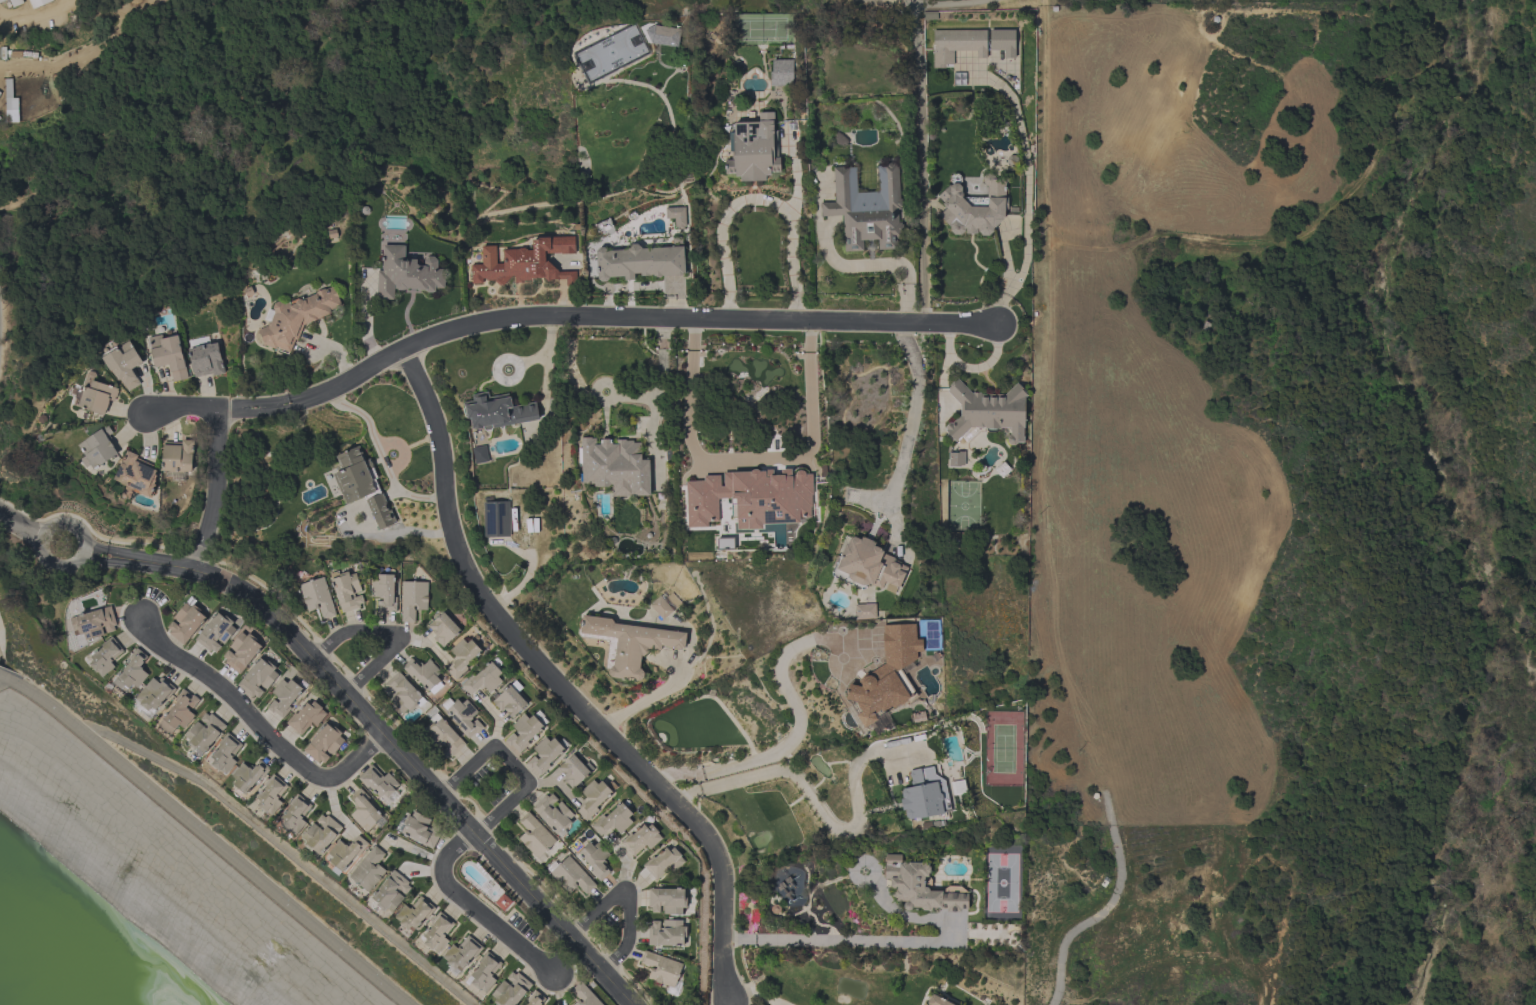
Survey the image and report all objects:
building: (1, 0)
building: (15, 2)
building: (38, 2)
road: (951, 5)
park: (919, 12)
road: (37, 14)
road: (231, 31)
building: (647, 33)
building: (1003, 42)
building: (956, 44)
building: (10, 53)
building: (608, 55)
road: (31, 65)
building: (780, 72)
building: (0, 93)
road: (918, 100)
building: (10, 103)
road: (156, 136)
building: (753, 149)
road: (1048, 189)
road: (12, 190)
road: (755, 200)
building: (974, 206)
building: (867, 208)
building: (676, 216)
road: (1325, 218)
road: (922, 260)
building: (639, 261)
building: (525, 262)
building: (406, 273)
road: (599, 316)
building: (295, 317)
road: (691, 334)
road: (810, 337)
building: (168, 355)
building: (205, 358)
building: (124, 364)
road: (663, 385)
building: (95, 394)
road: (182, 409)
building: (497, 411)
building: (987, 412)
road: (910, 418)
building: (97, 447)
building: (480, 454)
road: (380, 455)
building: (956, 458)
building: (177, 459)
road: (749, 460)
building: (615, 466)
building: (136, 475)
building: (362, 485)
road: (215, 490)
building: (750, 497)
building: (496, 519)
road: (18, 520)
building: (725, 543)
road: (82, 552)
building: (869, 563)
building: (346, 590)
building: (383, 592)
building: (317, 597)
building: (413, 597)
building: (665, 604)
building: (865, 611)
building: (186, 621)
building: (93, 622)
building: (443, 629)
building: (215, 632)
road: (388, 633)
building: (628, 643)
building: (241, 651)
building: (105, 656)
building: (461, 656)
building: (132, 671)
building: (424, 674)
building: (887, 675)
building: (258, 677)
building: (484, 678)
road: (561, 683)
building: (402, 693)
building: (152, 697)
building: (284, 697)
road: (647, 697)
building: (510, 700)
building: (178, 712)
building: (464, 716)
building: (306, 717)
road: (259, 726)
building: (525, 730)
building: (204, 733)
road: (383, 737)
building: (443, 738)
road: (793, 741)
building: (324, 742)
building: (225, 753)
building: (545, 753)
road: (477, 763)
building: (574, 770)
building: (248, 776)
building: (379, 783)
road: (554, 783)
building: (271, 794)
building: (924, 794)
building: (594, 797)
road: (513, 800)
building: (364, 810)
road: (820, 810)
building: (294, 814)
building: (553, 814)
building: (613, 820)
building: (419, 829)
building: (320, 833)
road: (207, 836)
building: (535, 837)
building: (640, 839)
road: (285, 850)
building: (345, 853)
building: (593, 857)
road: (623, 860)
building: (663, 862)
building: (368, 869)
building: (570, 875)
building: (921, 886)
building: (789, 888)
building: (389, 891)
road: (628, 897)
building: (666, 900)
building: (503, 901)
road: (474, 908)
building: (414, 913)
parking lot: (607, 919)
parking lot: (521, 927)
building: (437, 932)
building: (666, 932)
road: (897, 944)
building: (462, 952)
building: (661, 968)
building: (485, 971)
building: (510, 989)
building: (584, 995)
road: (755, 996)
building: (535, 999)
road: (728, 1001)
road: (734, 1001)
building: (937, 1001)

